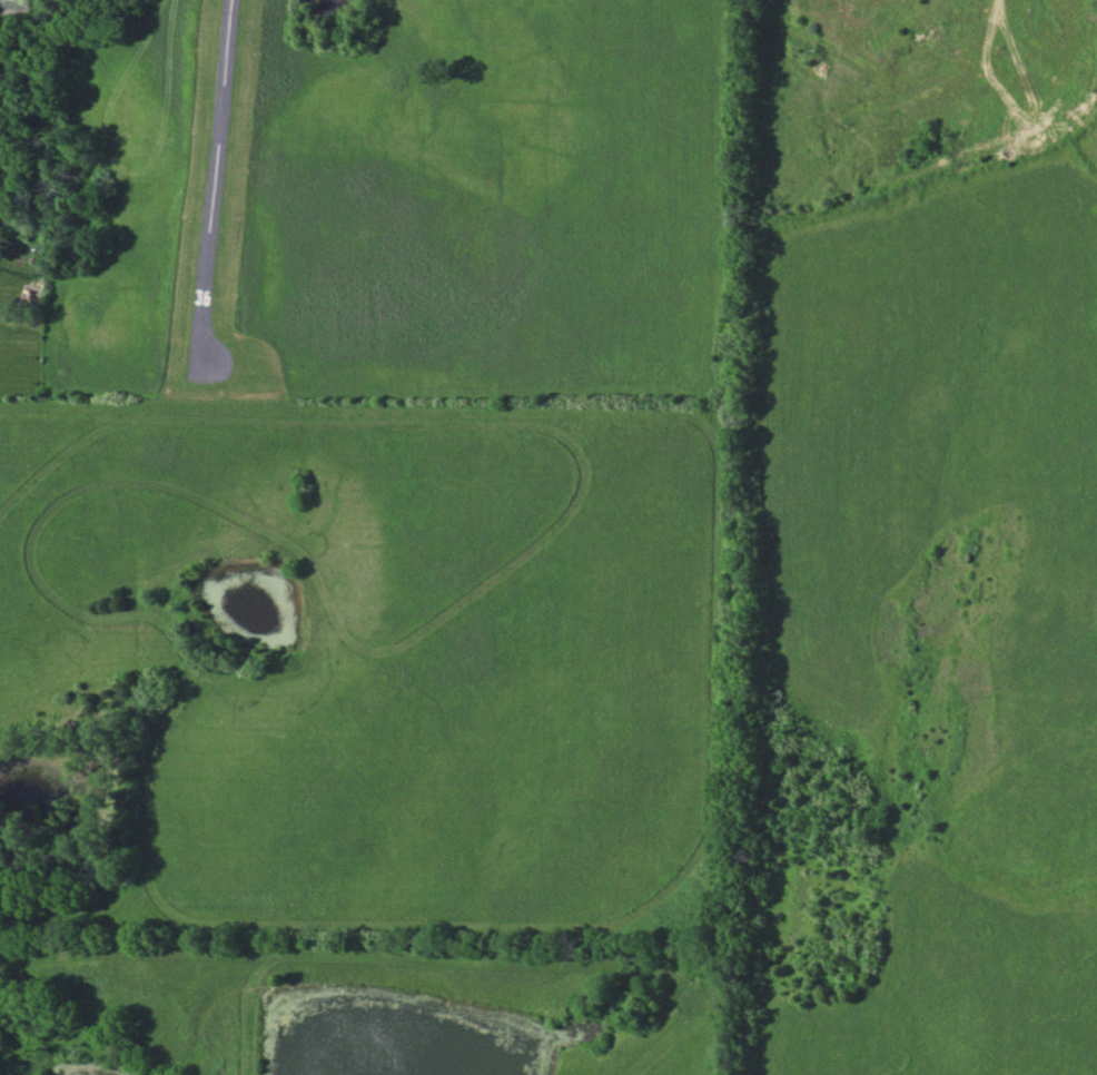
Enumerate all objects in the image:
airport runway: (220, 187)
airport: (396, 198)
airport apron: (216, 362)

